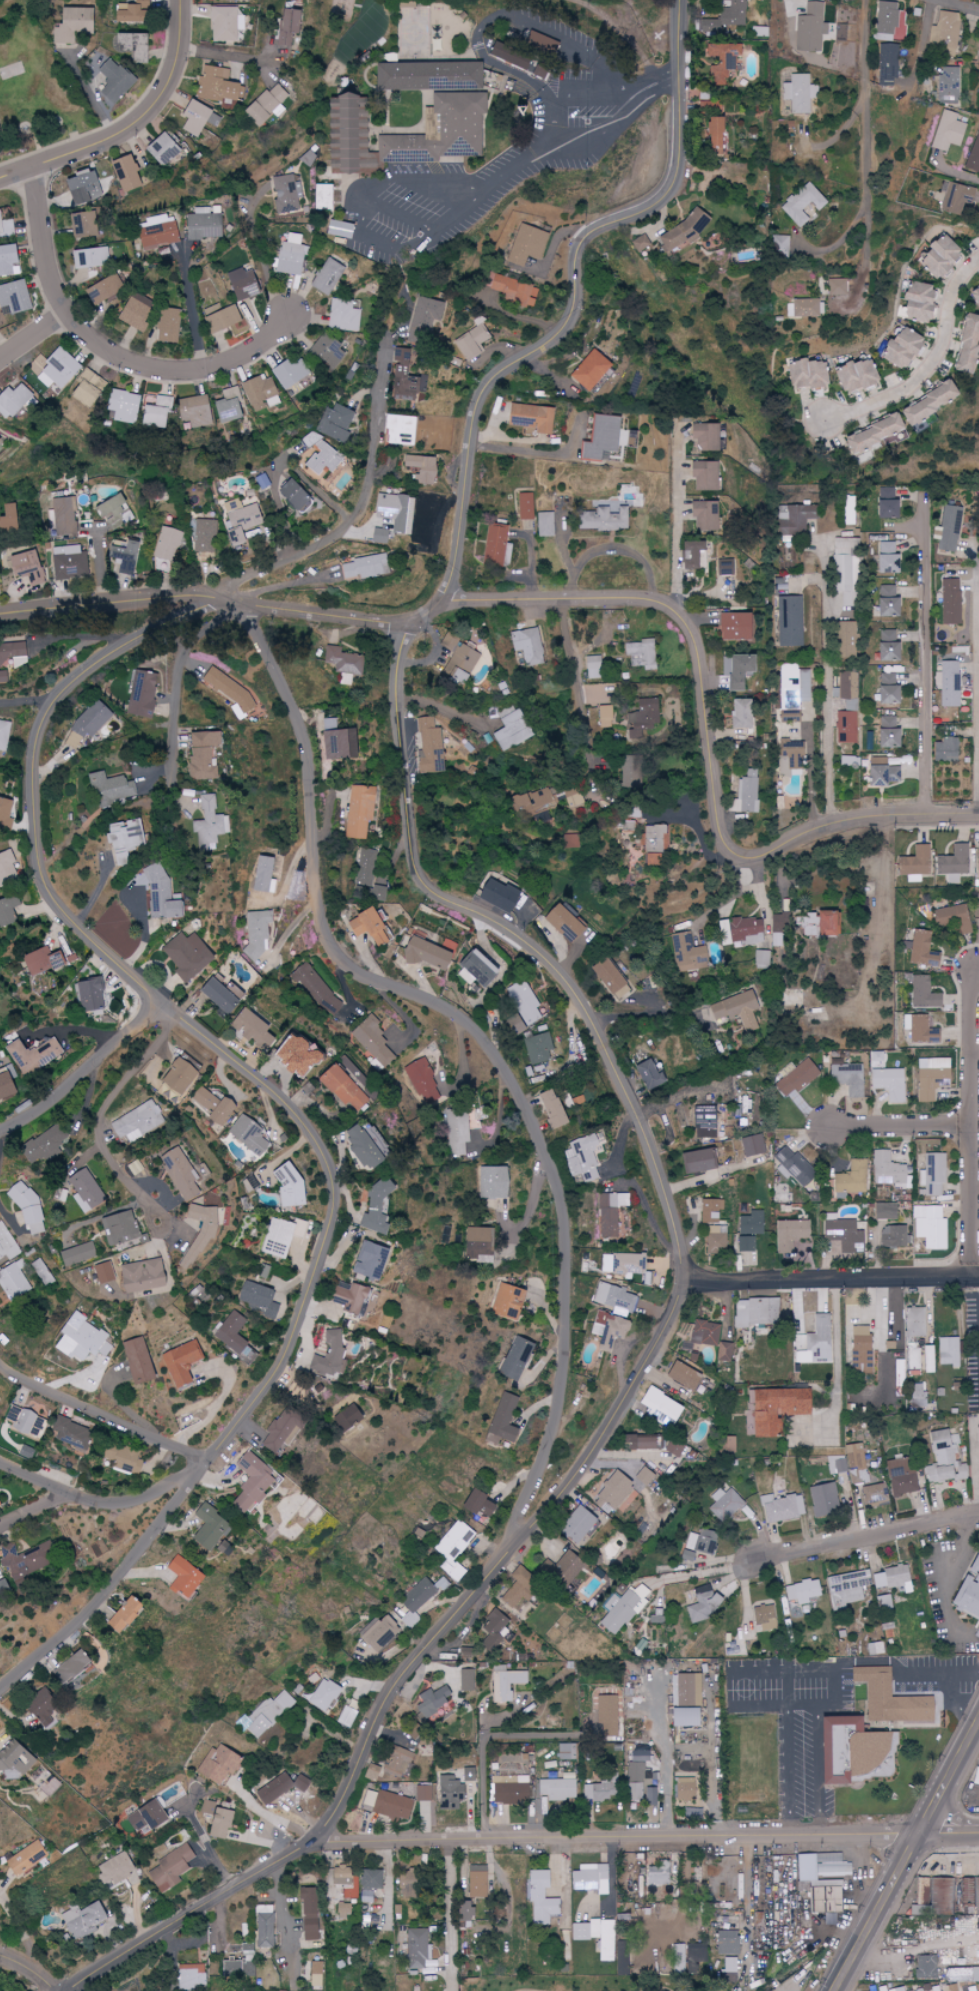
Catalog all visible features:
building: (236, 0)
road: (960, 4)
building: (760, 10)
building: (131, 11)
road: (504, 15)
building: (726, 16)
building: (886, 21)
building: (69, 24)
building: (226, 24)
building: (287, 27)
building: (809, 28)
building: (946, 32)
road: (921, 43)
building: (540, 44)
building: (132, 46)
road: (225, 55)
building: (508, 56)
building: (722, 62)
building: (887, 65)
building: (539, 73)
building: (429, 76)
building: (111, 78)
road: (659, 81)
building: (218, 87)
building: (799, 93)
road: (92, 95)
building: (265, 105)
building: (512, 113)
building: (197, 118)
road: (130, 125)
building: (439, 131)
road: (553, 131)
building: (948, 131)
building: (711, 132)
road: (865, 133)
building: (348, 135)
building: (163, 149)
building: (974, 158)
road: (517, 168)
road: (956, 171)
building: (125, 173)
building: (760, 186)
building: (82, 188)
building: (285, 193)
building: (319, 197)
building: (955, 198)
building: (803, 204)
road: (458, 212)
road: (400, 214)
building: (85, 224)
building: (201, 225)
building: (5, 227)
building: (336, 229)
building: (680, 232)
building: (156, 235)
building: (640, 244)
building: (526, 245)
building: (781, 245)
road: (864, 246)
building: (285, 256)
building: (939, 256)
building: (90, 257)
building: (6, 260)
road: (261, 260)
building: (323, 277)
building: (237, 285)
building: (838, 287)
building: (102, 288)
building: (511, 289)
building: (12, 298)
road: (585, 302)
building: (917, 303)
road: (191, 304)
building: (804, 308)
building: (133, 311)
building: (341, 316)
building: (425, 316)
building: (218, 318)
building: (165, 326)
road: (35, 340)
building: (472, 343)
building: (964, 343)
building: (898, 348)
road: (104, 350)
building: (324, 352)
road: (930, 365)
building: (55, 369)
building: (588, 370)
building: (286, 373)
building: (806, 374)
building: (853, 376)
building: (84, 389)
building: (256, 393)
building: (11, 400)
building: (161, 401)
building: (120, 406)
building: (223, 410)
building: (191, 412)
building: (149, 417)
building: (529, 417)
building: (333, 422)
building: (400, 430)
building: (869, 433)
building: (704, 436)
building: (599, 437)
road: (527, 451)
building: (319, 455)
building: (422, 468)
building: (703, 475)
building: (289, 495)
building: (885, 504)
building: (525, 506)
building: (109, 507)
building: (849, 510)
building: (396, 511)
road: (364, 512)
building: (703, 515)
building: (62, 516)
building: (7, 517)
building: (798, 518)
building: (240, 519)
building: (603, 519)
road: (676, 520)
building: (544, 524)
building: (950, 528)
building: (205, 535)
building: (378, 536)
building: (168, 544)
building: (494, 544)
building: (691, 553)
building: (117, 557)
building: (885, 558)
building: (0, 562)
building: (68, 562)
road: (99, 565)
building: (27, 567)
building: (365, 567)
building: (725, 567)
building: (846, 572)
road: (213, 597)
building: (950, 601)
building: (885, 602)
road: (437, 612)
building: (789, 621)
building: (733, 627)
road: (89, 635)
building: (844, 639)
building: (528, 646)
building: (885, 646)
road: (925, 653)
building: (645, 655)
building: (12, 656)
building: (461, 659)
building: (343, 664)
building: (592, 667)
building: (740, 670)
building: (455, 676)
road: (177, 681)
building: (949, 684)
building: (886, 689)
building: (847, 690)
building: (230, 692)
building: (794, 693)
building: (142, 694)
building: (599, 695)
road: (978, 696)
road: (829, 700)
road: (27, 702)
road: (443, 708)
building: (741, 714)
building: (605, 717)
building: (640, 718)
building: (86, 724)
building: (846, 727)
building: (511, 729)
building: (886, 733)
building: (2, 736)
road: (712, 737)
building: (337, 741)
building: (429, 746)
building: (947, 749)
building: (202, 754)
building: (791, 757)
building: (849, 762)
building: (881, 772)
road: (594, 780)
building: (110, 788)
building: (747, 794)
building: (575, 798)
building: (532, 800)
building: (359, 810)
building: (5, 811)
building: (208, 823)
building: (121, 836)
building: (644, 836)
building: (573, 844)
building: (978, 858)
building: (914, 863)
building: (953, 863)
building: (6, 864)
building: (367, 867)
building: (261, 873)
building: (157, 893)
building: (379, 893)
building: (497, 894)
building: (7, 908)
building: (978, 909)
building: (952, 918)
road: (887, 919)
building: (563, 922)
building: (776, 923)
building: (816, 923)
building: (366, 925)
building: (746, 930)
building: (258, 932)
building: (725, 932)
road: (529, 938)
building: (922, 950)
building: (688, 952)
building: (425, 953)
building: (186, 955)
building: (761, 958)
building: (38, 960)
building: (475, 969)
building: (612, 977)
building: (317, 989)
building: (924, 993)
building: (88, 994)
building: (219, 995)
building: (792, 996)
building: (525, 1002)
road: (640, 1010)
building: (736, 1010)
building: (515, 1025)
building: (253, 1029)
building: (920, 1029)
road: (203, 1035)
building: (375, 1043)
building: (538, 1049)
road: (975, 1052)
building: (33, 1055)
road: (494, 1055)
building: (295, 1056)
road: (79, 1066)
building: (648, 1074)
building: (171, 1076)
building: (848, 1077)
building: (932, 1077)
building: (796, 1078)
building: (422, 1081)
building: (889, 1083)
building: (5, 1085)
building: (342, 1087)
road: (87, 1091)
building: (579, 1099)
building: (207, 1105)
building: (478, 1106)
road: (107, 1108)
building: (550, 1108)
road: (500, 1112)
building: (704, 1118)
building: (128, 1121)
road: (968, 1122)
road: (897, 1126)
building: (458, 1132)
building: (241, 1134)
road: (0, 1138)
building: (40, 1145)
building: (751, 1145)
building: (363, 1147)
building: (584, 1158)
building: (694, 1161)
building: (794, 1166)
building: (166, 1171)
building: (889, 1171)
building: (933, 1174)
building: (852, 1178)
building: (493, 1182)
building: (282, 1185)
road: (974, 1185)
building: (77, 1189)
road: (7, 1208)
building: (376, 1208)
building: (710, 1210)
building: (884, 1211)
building: (610, 1213)
building: (750, 1223)
road: (171, 1225)
building: (107, 1226)
building: (932, 1227)
building: (187, 1232)
road: (157, 1233)
building: (789, 1234)
building: (843, 1235)
building: (893, 1236)
building: (270, 1238)
building: (716, 1239)
building: (479, 1242)
building: (745, 1244)
building: (5, 1247)
building: (68, 1253)
building: (369, 1260)
building: (628, 1263)
building: (37, 1272)
building: (94, 1272)
building: (129, 1274)
road: (834, 1277)
building: (12, 1280)
building: (351, 1297)
building: (254, 1298)
building: (616, 1299)
building: (506, 1302)
building: (755, 1312)
building: (912, 1321)
building: (609, 1330)
building: (229, 1332)
building: (705, 1333)
building: (80, 1335)
building: (814, 1342)
building: (860, 1347)
building: (65, 1349)
building: (724, 1351)
building: (948, 1351)
building: (328, 1356)
building: (515, 1359)
building: (914, 1359)
building: (928, 1359)
building: (133, 1360)
building: (179, 1363)
road: (838, 1371)
building: (680, 1374)
building: (899, 1378)
building: (917, 1396)
building: (658, 1407)
building: (775, 1408)
road: (102, 1411)
building: (345, 1417)
building: (503, 1419)
building: (23, 1421)
building: (280, 1431)
building: (71, 1434)
building: (639, 1442)
building: (728, 1444)
building: (674, 1448)
building: (26, 1451)
building: (977, 1455)
building: (122, 1458)
building: (945, 1459)
road: (976, 1461)
building: (856, 1463)
building: (836, 1464)
building: (644, 1476)
building: (902, 1478)
building: (253, 1481)
building: (612, 1493)
building: (874, 1496)
building: (822, 1498)
building: (474, 1501)
road: (97, 1502)
building: (724, 1504)
building: (488, 1508)
building: (781, 1508)
road: (34, 1510)
building: (576, 1525)
building: (210, 1527)
road: (865, 1539)
building: (455, 1541)
building: (706, 1545)
building: (224, 1549)
building: (27, 1559)
building: (561, 1570)
road: (705, 1571)
building: (184, 1577)
building: (891, 1578)
road: (944, 1578)
building: (516, 1586)
building: (845, 1588)
building: (801, 1591)
building: (968, 1592)
building: (416, 1601)
building: (883, 1602)
building: (702, 1603)
building: (624, 1609)
road: (84, 1615)
building: (120, 1616)
building: (764, 1618)
building: (494, 1628)
building: (380, 1634)
road: (849, 1659)
building: (68, 1668)
road: (408, 1670)
road: (785, 1677)
building: (466, 1680)
building: (504, 1683)
building: (686, 1689)
building: (324, 1695)
building: (888, 1698)
building: (433, 1700)
building: (606, 1709)
building: (43, 1710)
building: (267, 1714)
building: (347, 1717)
building: (683, 1717)
road: (483, 1747)
building: (847, 1749)
building: (565, 1751)
building: (511, 1757)
road: (667, 1760)
building: (15, 1761)
building: (396, 1762)
building: (218, 1765)
building: (371, 1772)
building: (638, 1772)
building: (467, 1774)
building: (975, 1777)
building: (280, 1787)
building: (601, 1788)
building: (683, 1788)
building: (510, 1789)
building: (557, 1789)
building: (635, 1791)
building: (424, 1793)
building: (450, 1793)
building: (388, 1805)
road: (270, 1812)
road: (804, 1814)
building: (147, 1815)
building: (217, 1820)
road: (640, 1840)
road: (209, 1846)
road: (908, 1857)
building: (25, 1858)
building: (116, 1868)
building: (170, 1869)
building: (657, 1874)
building: (699, 1874)
building: (340, 1876)
building: (590, 1878)
building: (369, 1879)
building: (477, 1881)
building: (408, 1884)
building: (922, 1890)
road: (1, 1893)
building: (942, 1893)
building: (967, 1896)
building: (977, 1896)
building: (823, 1897)
building: (540, 1898)
building: (341, 1911)
building: (465, 1911)
road: (284, 1914)
building: (309, 1914)
road: (449, 1917)
building: (84, 1920)
road: (15, 1923)
building: (264, 1926)
building: (585, 1930)
building: (607, 1940)
building: (726, 1942)
road: (947, 1942)
building: (417, 1949)
building: (680, 1955)
building: (695, 1955)
road: (885, 1960)
building: (729, 1964)
road: (30, 1966)
building: (623, 1966)
building: (925, 1966)
building: (315, 1974)
building: (975, 1974)
building: (958, 1975)
building: (190, 1976)
road: (532, 1981)
park: (598, 1984)
road: (650, 1986)
building: (882, 1988)
building: (951, 1988)
building: (896, 1989)
building: (935, 1989)
building: (970, 1989)
building: (918, 1990)

